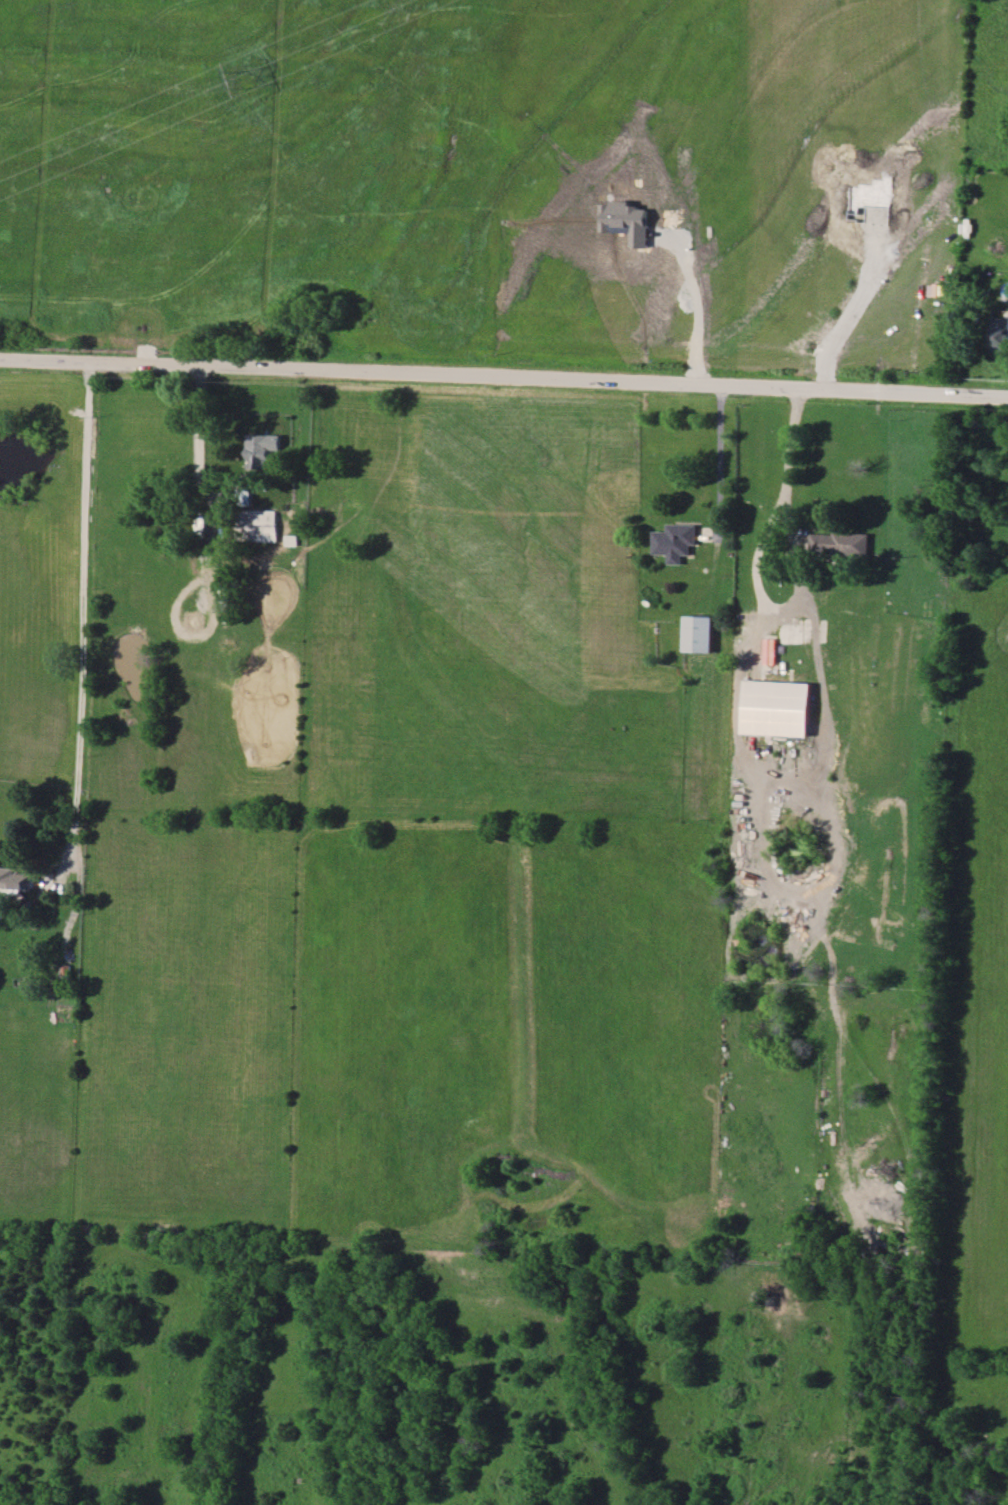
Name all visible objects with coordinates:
power tower: (245, 78)
road: (696, 307)
road: (847, 319)
building: (1000, 334)
road: (503, 378)
road: (201, 421)
building: (263, 449)
road: (720, 461)
building: (260, 525)
building: (678, 541)
building: (841, 544)
road: (84, 633)
building: (700, 633)
building: (778, 708)
road: (736, 714)
building: (16, 879)

